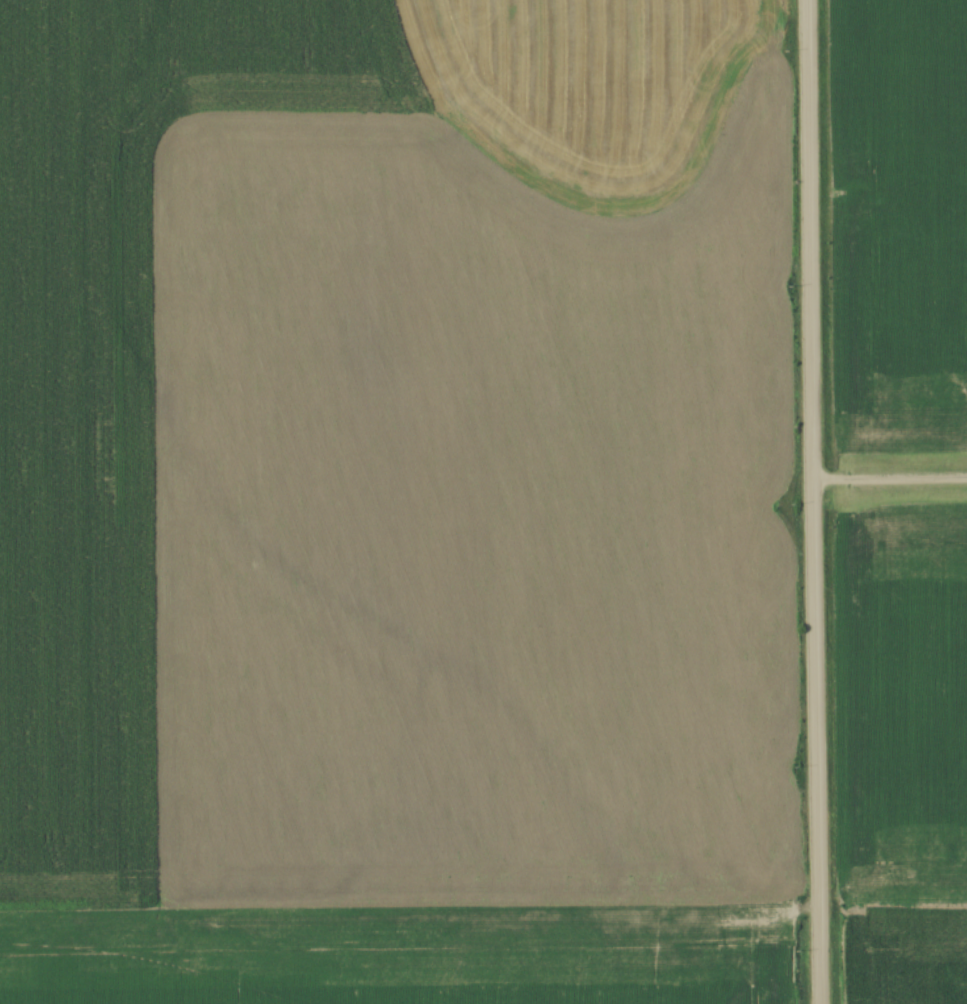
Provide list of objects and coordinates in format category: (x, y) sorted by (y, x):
road: (888, 482)
road: (809, 501)

